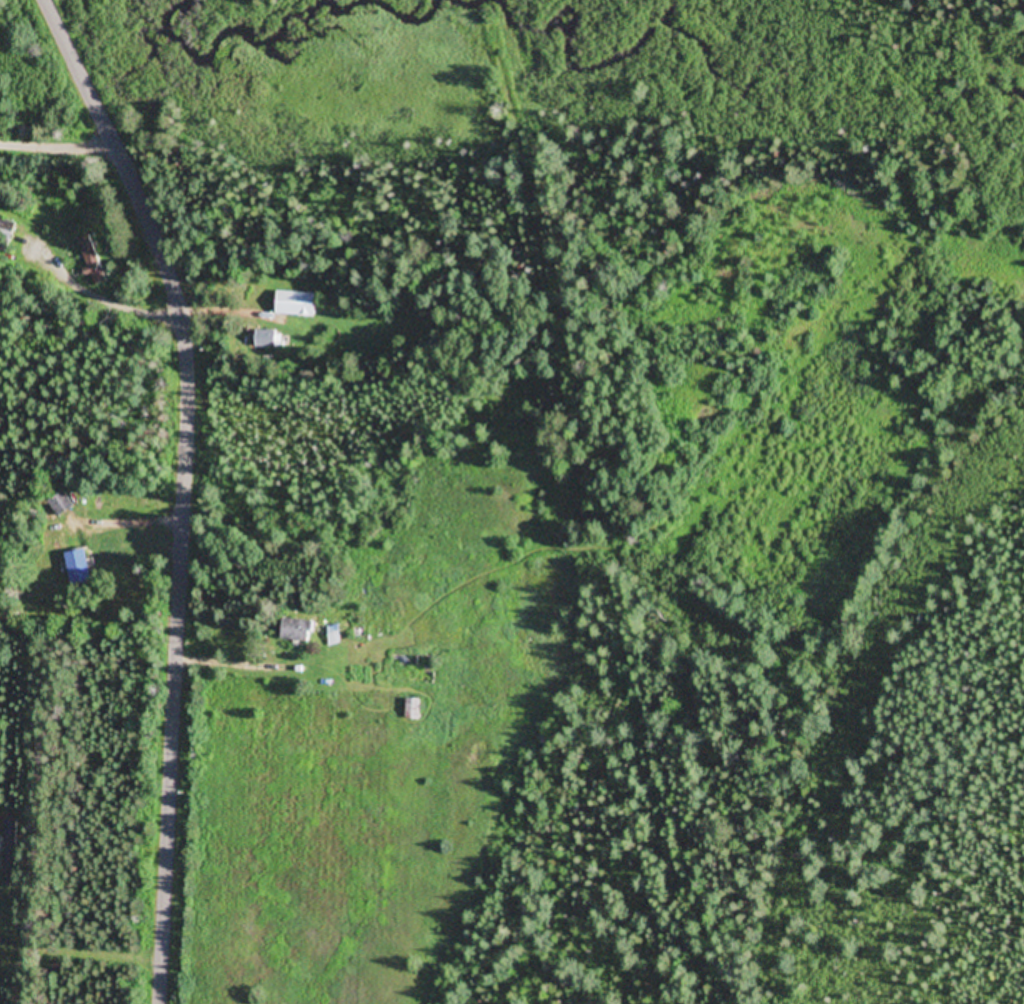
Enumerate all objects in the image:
road: (55, 141)
building: (6, 236)
building: (93, 260)
building: (298, 303)
building: (268, 338)
road: (183, 486)
building: (60, 503)
building: (78, 569)
building: (300, 631)
building: (416, 710)
building: (12, 845)

